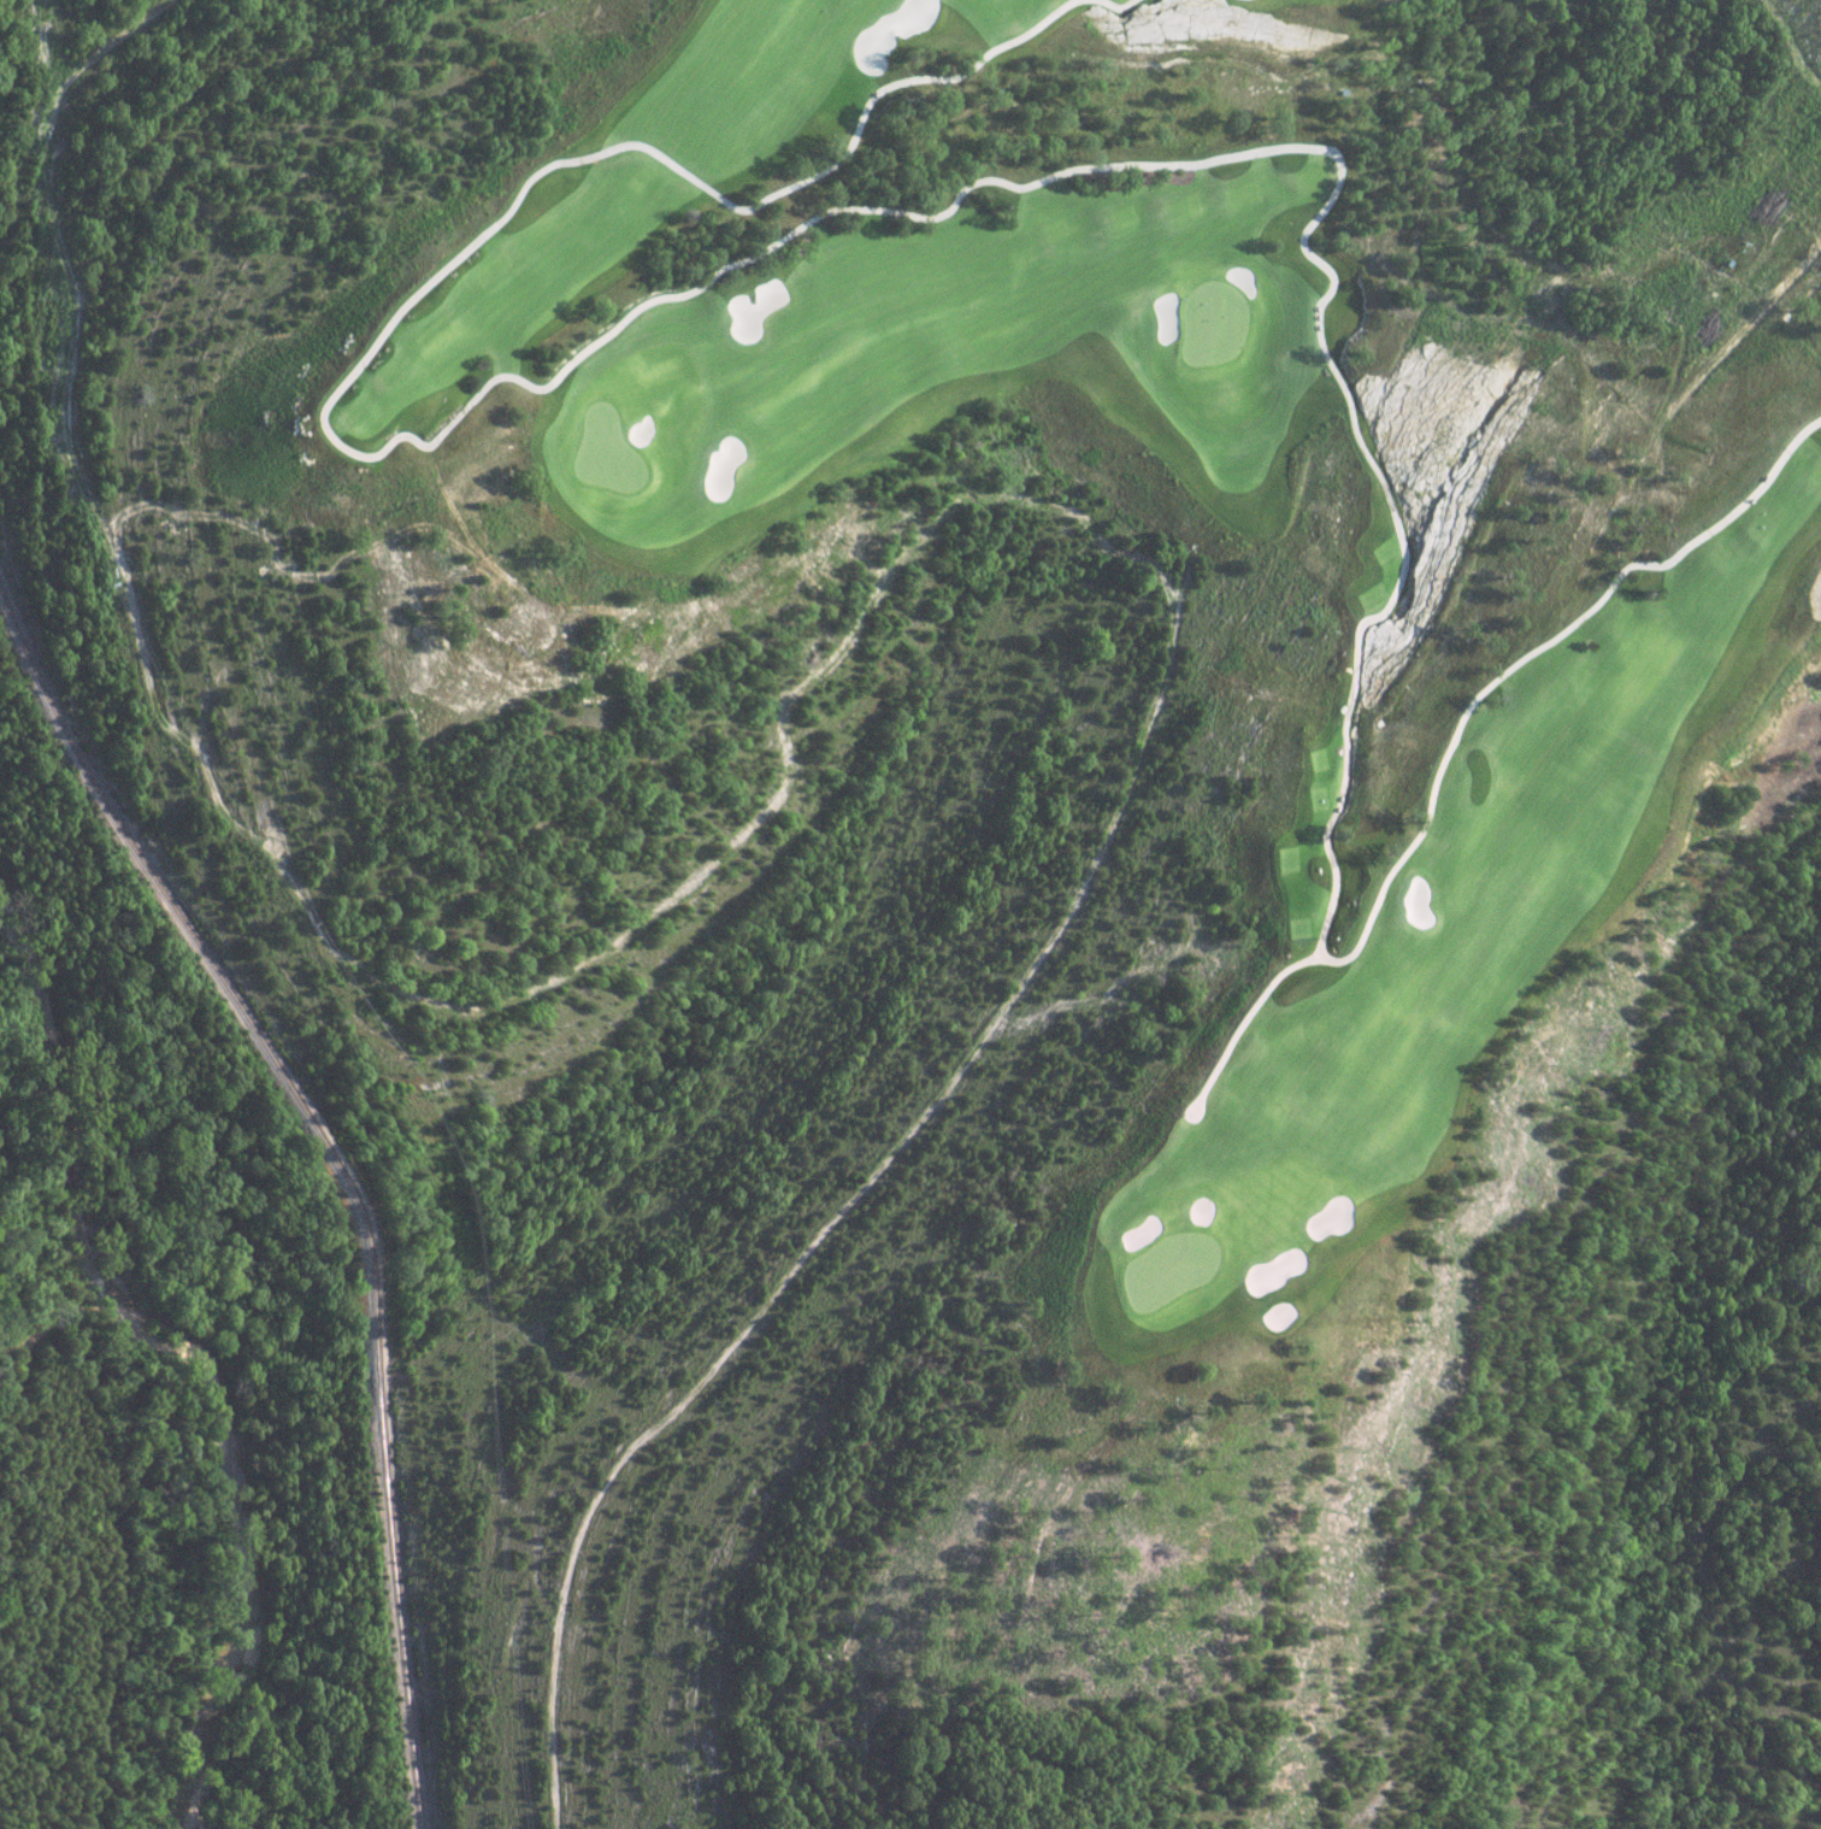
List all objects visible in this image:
road: (1115, 6)
road: (473, 399)
road: (1354, 642)
road: (1457, 722)
park: (1041, 763)
road: (1183, 1117)
railway: (329, 1164)

